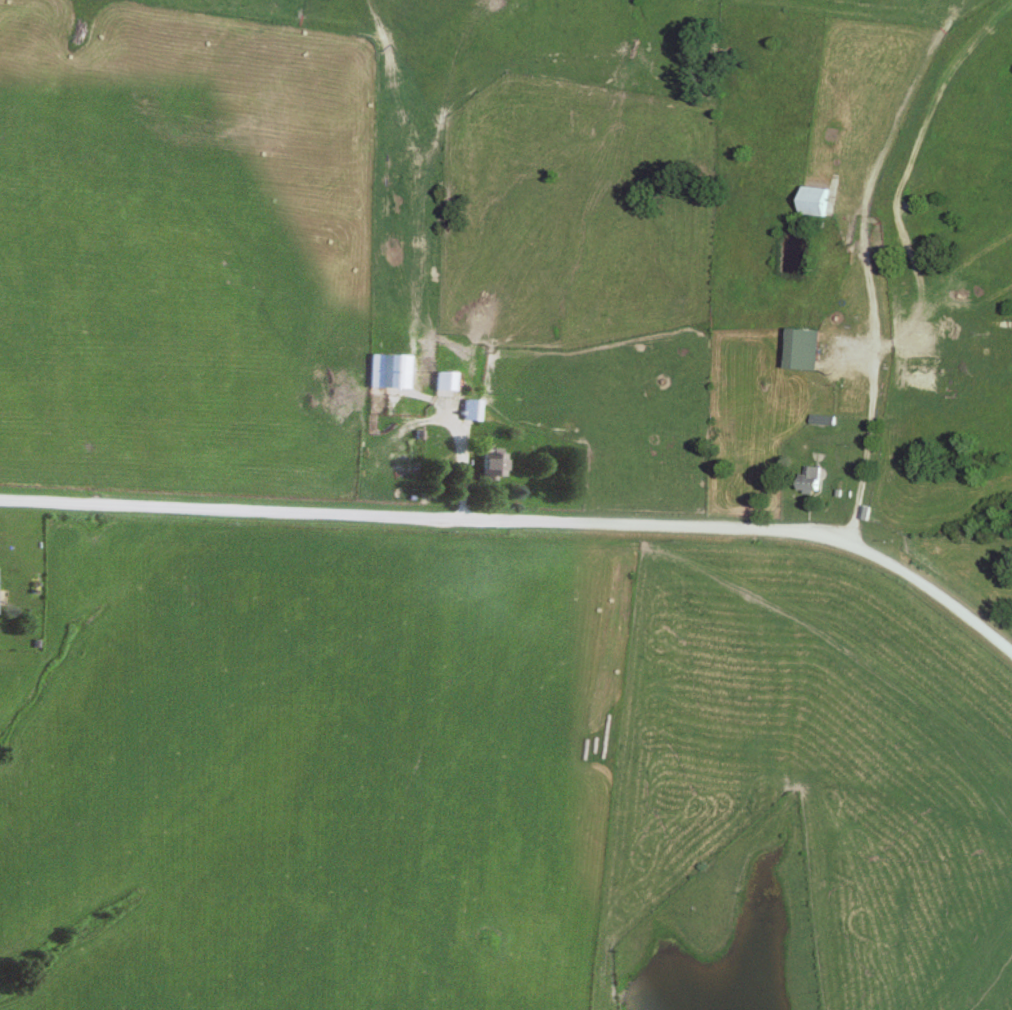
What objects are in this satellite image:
building: (813, 201)
building: (801, 350)
building: (387, 372)
building: (442, 381)
road: (868, 385)
building: (469, 410)
road: (464, 463)
building: (489, 464)
building: (807, 480)
road: (523, 528)

